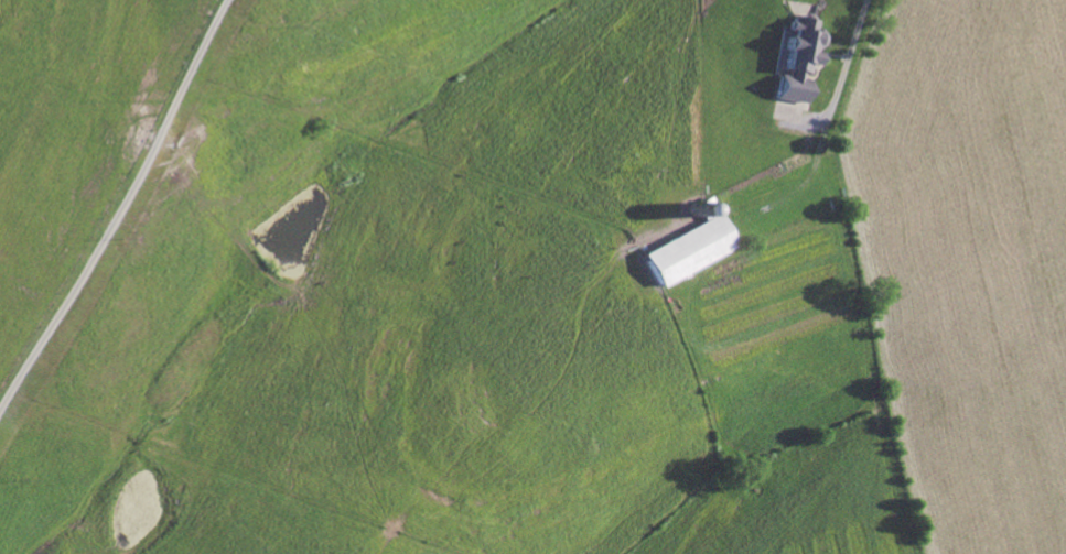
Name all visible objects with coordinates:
road: (853, 28)
building: (796, 58)
road: (118, 207)
building: (687, 247)

